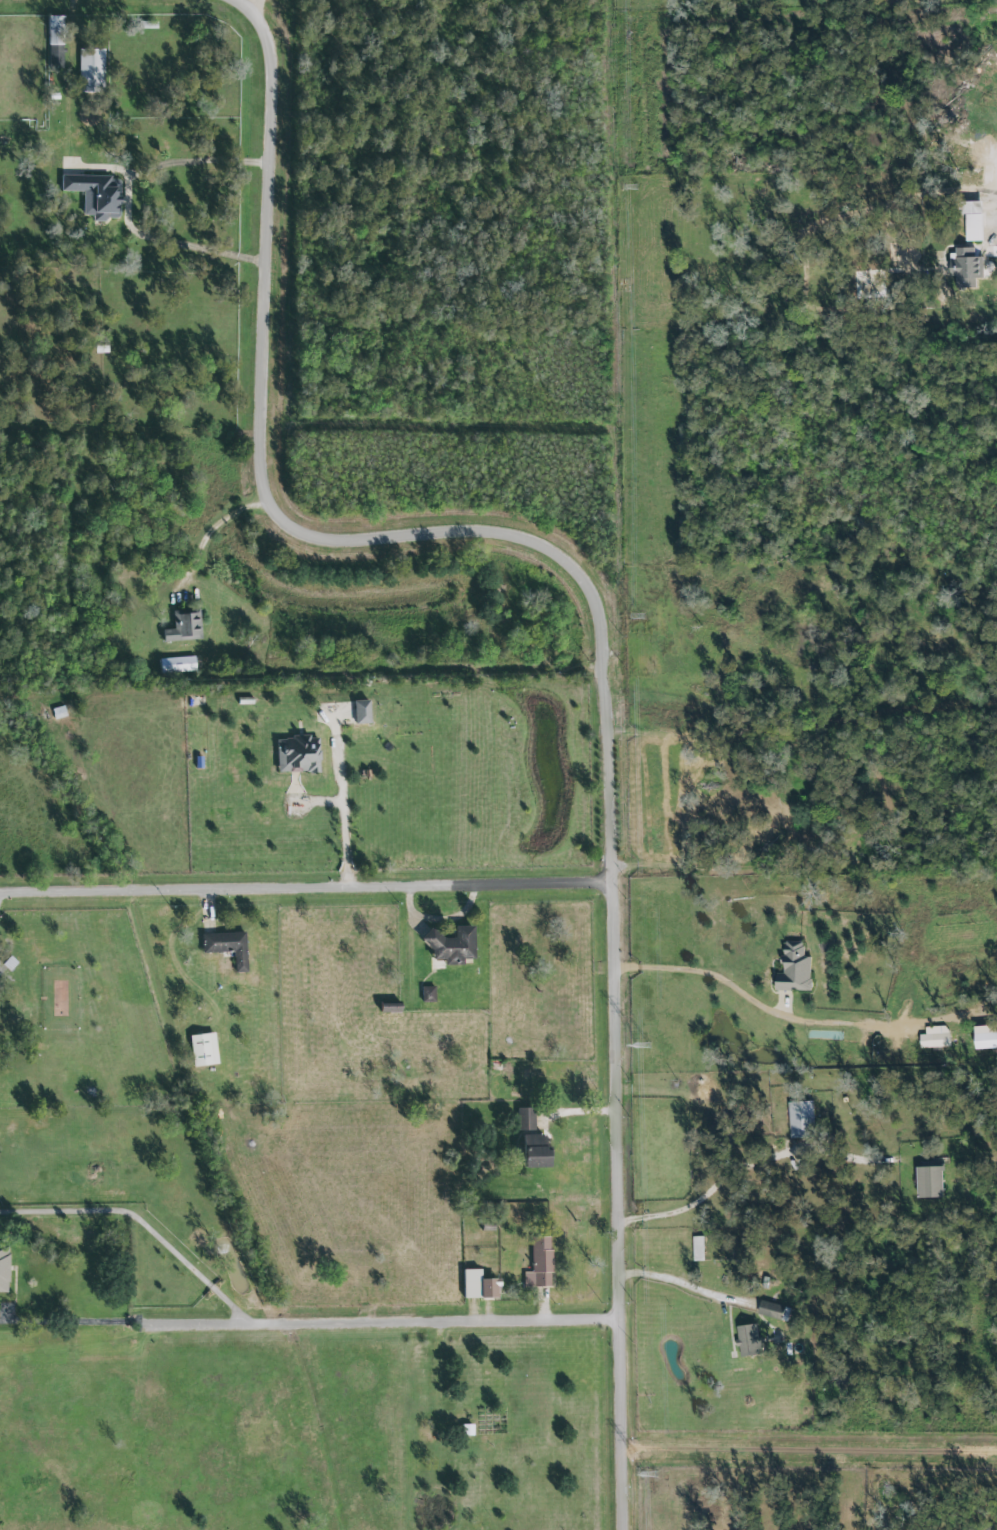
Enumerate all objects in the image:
road: (264, 12)
building: (93, 71)
power tower: (632, 184)
building: (95, 193)
road: (127, 201)
building: (972, 220)
building: (961, 265)
road: (130, 423)
road: (210, 531)
power tower: (637, 614)
road: (599, 616)
building: (186, 627)
building: (179, 665)
road: (353, 684)
building: (364, 712)
building: (299, 755)
road: (846, 806)
road: (345, 822)
road: (309, 884)
road: (439, 920)
building: (229, 947)
building: (449, 947)
building: (797, 970)
building: (429, 995)
building: (394, 1009)
road: (801, 1022)
building: (938, 1038)
building: (989, 1038)
power tower: (646, 1047)
building: (206, 1050)
building: (804, 1121)
building: (536, 1145)
road: (727, 1173)
building: (935, 1183)
road: (141, 1221)
building: (700, 1250)
building: (541, 1264)
building: (3, 1268)
building: (482, 1286)
road: (682, 1286)
building: (775, 1312)
road: (385, 1320)
road: (73, 1323)
building: (753, 1342)
building: (470, 1431)
power tower: (648, 1475)

